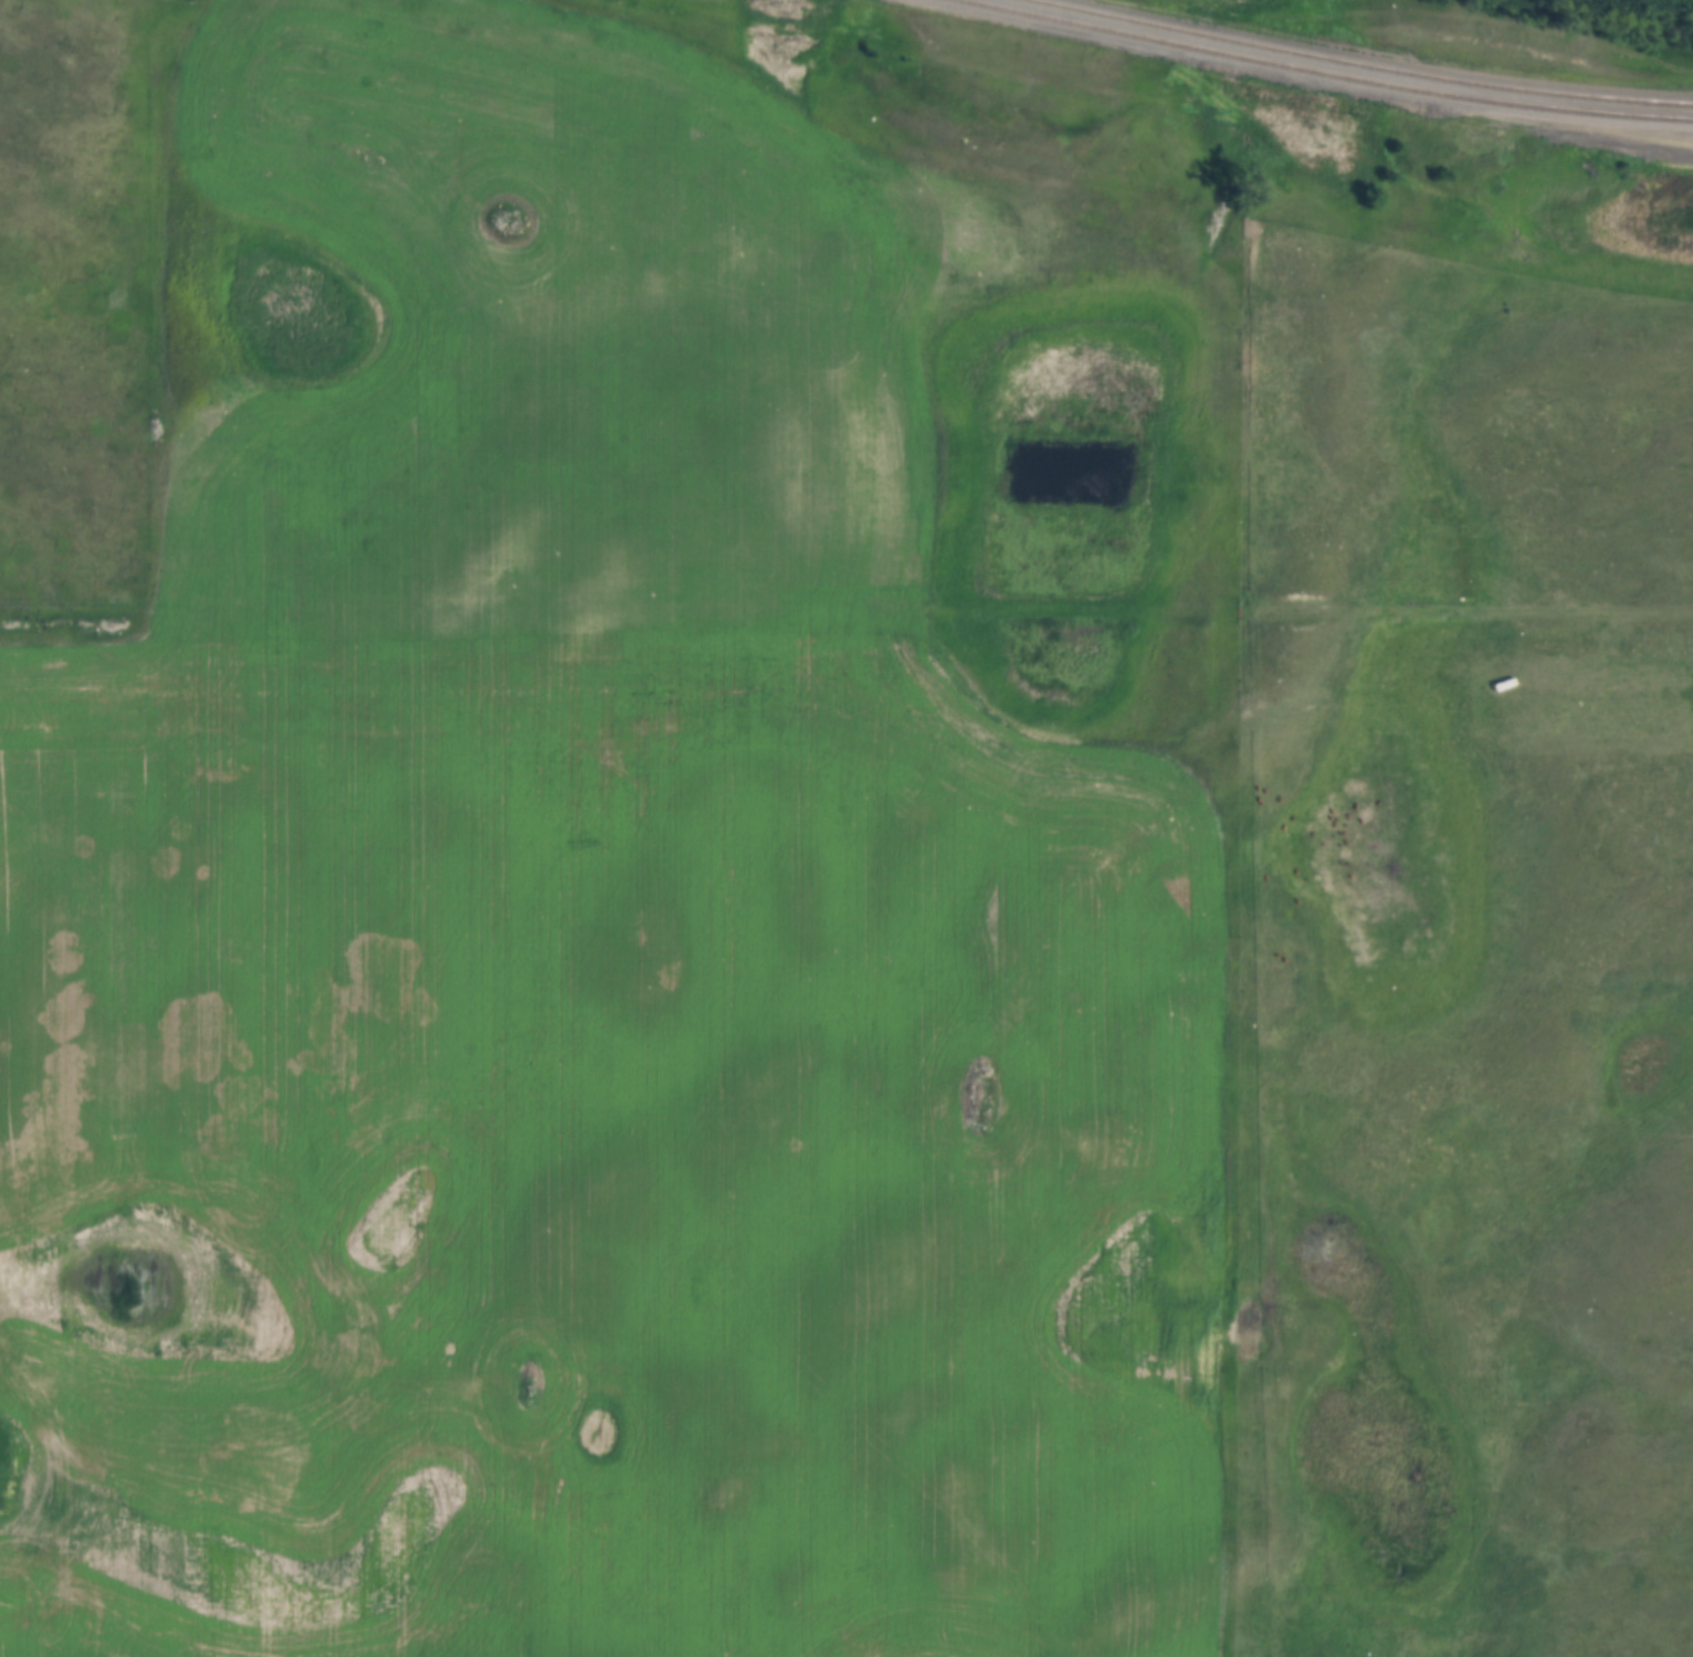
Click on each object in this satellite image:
railway: (1357, 65)
railway: (1321, 74)
road: (70, 609)

